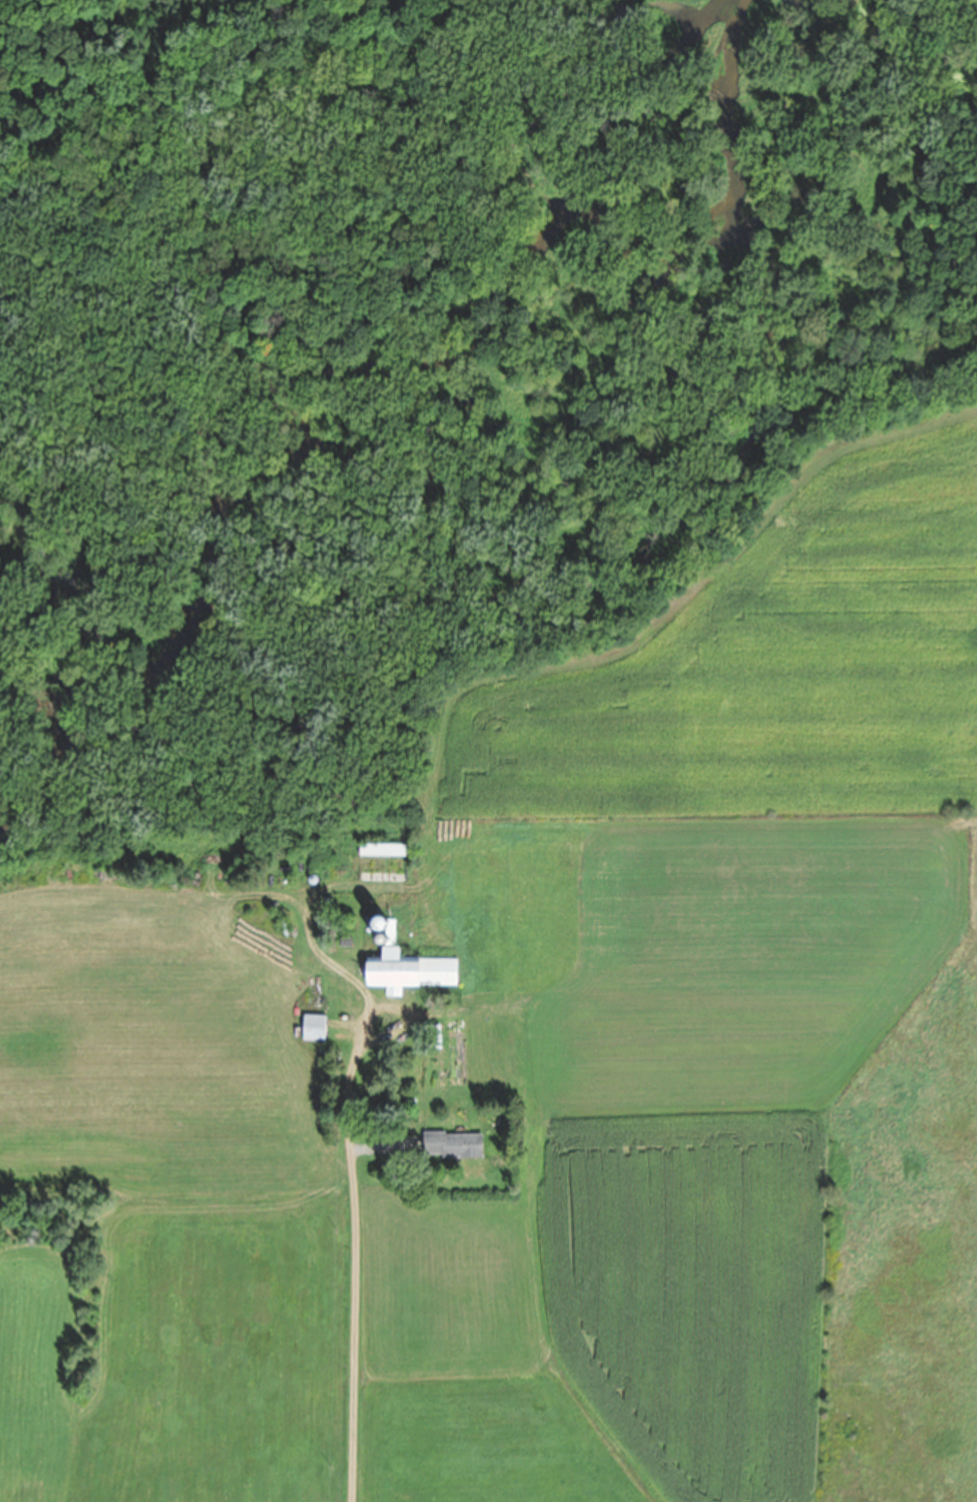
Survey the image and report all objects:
building: (380, 850)
building: (406, 971)
building: (312, 1027)
building: (450, 1145)
road: (353, 1264)

